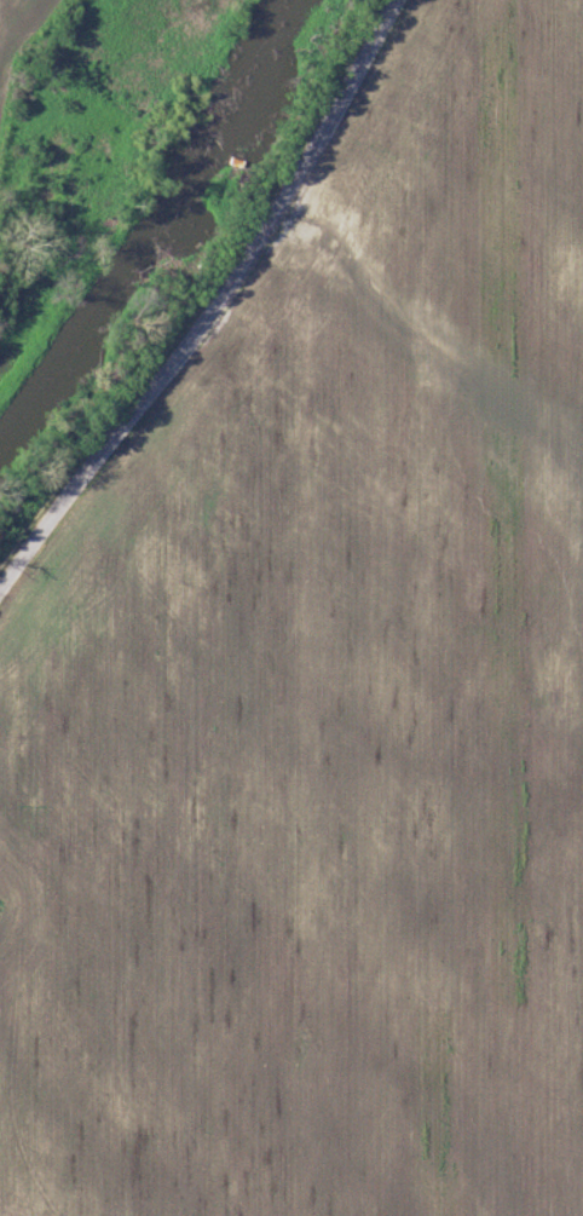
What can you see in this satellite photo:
road: (219, 313)

